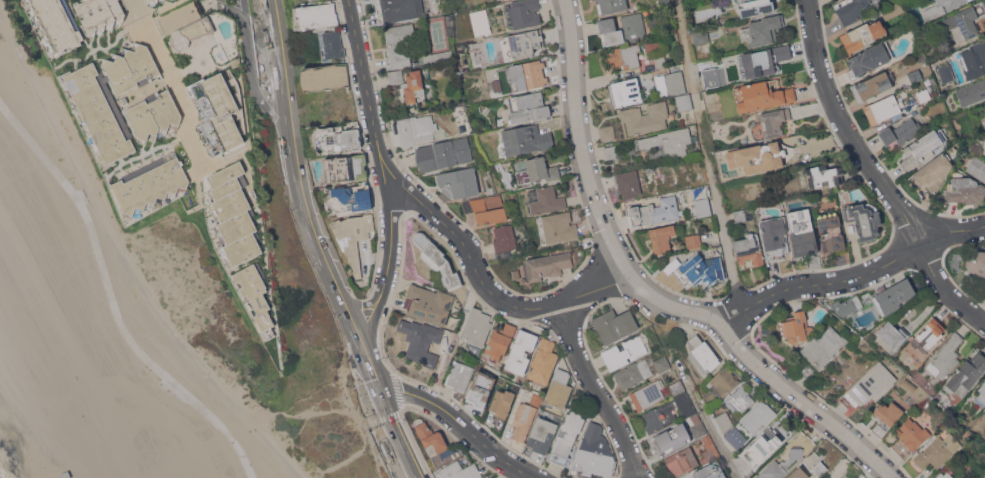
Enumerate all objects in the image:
building: (162, 0)
road: (213, 0)
building: (305, 0)
building: (153, 1)
building: (665, 1)
road: (224, 4)
building: (611, 5)
building: (755, 6)
building: (941, 7)
building: (398, 9)
building: (852, 9)
building: (893, 10)
building: (523, 13)
building: (100, 14)
building: (178, 15)
building: (315, 15)
building: (653, 21)
building: (964, 21)
building: (480, 22)
building: (56, 24)
building: (622, 29)
building: (762, 30)
building: (863, 34)
park: (438, 35)
building: (700, 36)
building: (520, 44)
building: (332, 45)
building: (653, 45)
building: (393, 47)
building: (977, 55)
building: (438, 56)
building: (624, 56)
building: (868, 58)
building: (761, 59)
building: (660, 61)
road: (280, 62)
building: (132, 67)
building: (425, 67)
road: (251, 69)
road: (169, 71)
building: (946, 72)
building: (527, 74)
building: (914, 75)
building: (325, 76)
building: (396, 76)
building: (710, 77)
building: (213, 80)
building: (670, 83)
building: (495, 84)
building: (872, 85)
building: (414, 87)
building: (624, 91)
building: (973, 91)
building: (761, 95)
building: (923, 95)
building: (124, 100)
building: (684, 101)
building: (528, 107)
building: (882, 108)
building: (99, 113)
building: (155, 114)
building: (645, 117)
building: (770, 123)
building: (417, 129)
building: (900, 131)
building: (607, 132)
building: (338, 137)
building: (524, 140)
building: (669, 141)
building: (984, 144)
road: (378, 145)
building: (922, 146)
building: (611, 151)
building: (984, 152)
building: (444, 154)
road: (707, 154)
building: (761, 156)
building: (346, 167)
building: (977, 167)
building: (650, 168)
building: (538, 170)
road: (876, 172)
building: (932, 172)
building: (503, 174)
building: (823, 175)
building: (458, 182)
building: (628, 183)
building: (150, 184)
building: (964, 191)
building: (253, 192)
road: (84, 196)
building: (348, 199)
building: (546, 200)
building: (701, 200)
building: (813, 200)
building: (486, 209)
building: (655, 211)
building: (232, 214)
road: (308, 215)
building: (739, 215)
building: (863, 219)
building: (557, 227)
building: (801, 231)
building: (831, 232)
building: (353, 236)
building: (774, 237)
building: (504, 238)
building: (661, 238)
building: (693, 241)
building: (749, 249)
road: (471, 256)
road: (124, 259)
building: (437, 259)
building: (977, 264)
building: (546, 265)
building: (696, 269)
building: (516, 273)
road: (853, 275)
road: (594, 288)
road: (649, 292)
building: (254, 294)
building: (892, 296)
road: (112, 300)
road: (364, 303)
building: (428, 303)
building: (807, 303)
building: (842, 304)
road: (373, 322)
building: (612, 326)
building: (796, 326)
road: (355, 327)
building: (476, 327)
building: (848, 331)
building: (931, 332)
building: (892, 333)
building: (422, 340)
building: (500, 340)
building: (823, 346)
building: (521, 351)
building: (624, 352)
traffic signals: (367, 353)
building: (703, 353)
building: (946, 356)
building: (543, 363)
building: (662, 363)
building: (966, 372)
road: (374, 373)
building: (633, 373)
building: (460, 375)
building: (723, 381)
building: (909, 384)
building: (869, 386)
building: (481, 388)
building: (677, 388)
building: (558, 389)
road: (598, 390)
building: (981, 391)
traffic signals: (381, 394)
building: (649, 394)
building: (741, 398)
building: (537, 399)
building: (503, 402)
building: (685, 404)
road: (402, 408)
building: (758, 416)
building: (886, 416)
building: (659, 417)
building: (523, 420)
building: (723, 420)
road: (462, 424)
building: (698, 426)
road: (714, 433)
building: (542, 434)
road: (397, 436)
building: (566, 436)
building: (910, 436)
building: (671, 437)
building: (735, 437)
building: (431, 438)
building: (762, 445)
building: (937, 451)
building: (797, 452)
building: (593, 454)
road: (373, 455)
building: (691, 457)
road: (348, 458)
building: (816, 463)
building: (460, 470)
building: (710, 471)
building: (798, 474)
building: (945, 475)
building: (492, 477)

